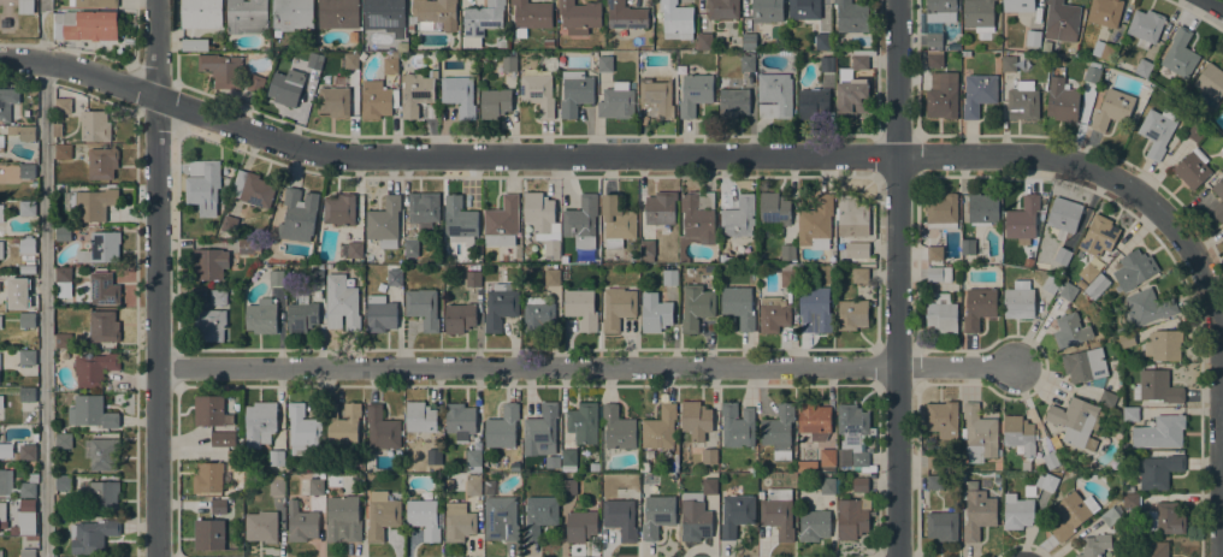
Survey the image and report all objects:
building: (6, 0)
building: (93, 2)
road: (1216, 4)
building: (1018, 6)
building: (721, 8)
building: (803, 8)
building: (766, 11)
building: (937, 12)
building: (1104, 12)
building: (201, 13)
building: (291, 13)
building: (338, 13)
building: (433, 13)
building: (977, 14)
building: (246, 16)
building: (384, 16)
building: (531, 16)
building: (626, 16)
building: (851, 16)
building: (579, 17)
building: (675, 19)
building: (1062, 20)
building: (480, 22)
building: (84, 25)
building: (1145, 26)
building: (1032, 38)
building: (934, 40)
building: (704, 41)
building: (748, 41)
building: (821, 41)
building: (195, 45)
building: (1104, 51)
building: (965, 53)
building: (1177, 57)
building: (314, 60)
building: (350, 60)
building: (933, 60)
building: (746, 63)
building: (509, 64)
building: (604, 64)
building: (826, 64)
building: (1008, 64)
building: (390, 65)
building: (1142, 67)
building: (221, 70)
building: (1091, 73)
building: (394, 79)
building: (254, 83)
building: (1210, 84)
building: (285, 87)
building: (852, 87)
building: (415, 93)
building: (537, 93)
building: (574, 93)
building: (695, 93)
building: (977, 93)
building: (459, 95)
building: (774, 95)
building: (941, 95)
building: (655, 97)
building: (377, 100)
building: (1095, 100)
building: (335, 101)
building: (1022, 101)
building: (1062, 101)
building: (7, 102)
building: (616, 102)
building: (733, 102)
building: (811, 102)
building: (494, 103)
building: (63, 106)
building: (1222, 108)
building: (1111, 109)
building: (94, 126)
building: (57, 129)
building: (23, 131)
building: (1157, 131)
building: (1195, 132)
building: (1, 143)
building: (61, 152)
road: (439, 159)
building: (101, 162)
building: (1192, 168)
building: (26, 171)
building: (205, 189)
building: (253, 189)
building: (1219, 195)
building: (95, 203)
building: (26, 208)
building: (423, 208)
building: (660, 208)
building: (774, 208)
building: (983, 208)
building: (339, 209)
building: (941, 211)
building: (1, 213)
building: (297, 215)
building: (738, 217)
building: (852, 217)
building: (1063, 217)
building: (459, 218)
building: (581, 220)
building: (696, 220)
building: (1022, 220)
building: (384, 221)
building: (542, 221)
building: (616, 221)
building: (502, 223)
building: (816, 223)
building: (229, 224)
building: (64, 232)
building: (1098, 236)
building: (14, 241)
building: (26, 244)
building: (968, 245)
road: (1184, 245)
building: (246, 247)
building: (649, 247)
building: (101, 248)
building: (410, 248)
building: (0, 249)
building: (355, 249)
building: (734, 249)
building: (787, 251)
building: (859, 251)
building: (934, 253)
building: (1062, 255)
building: (209, 262)
building: (1027, 262)
building: (26, 268)
building: (1134, 269)
building: (1088, 272)
building: (938, 273)
building: (63, 274)
building: (859, 274)
building: (394, 275)
building: (787, 275)
building: (277, 277)
building: (315, 277)
building: (551, 277)
building: (669, 277)
road: (155, 278)
building: (473, 278)
road: (897, 278)
building: (26, 283)
building: (1051, 284)
building: (1081, 284)
building: (1097, 285)
building: (102, 288)
building: (1068, 291)
building: (221, 296)
building: (1018, 300)
building: (26, 303)
building: (341, 303)
building: (696, 306)
building: (738, 306)
building: (500, 307)
building: (618, 307)
building: (816, 307)
building: (979, 307)
building: (1147, 307)
building: (421, 308)
building: (580, 308)
road: (46, 309)
building: (655, 313)
building: (379, 314)
building: (538, 314)
building: (773, 314)
building: (852, 314)
building: (943, 314)
building: (301, 315)
building: (261, 316)
building: (459, 316)
building: (26, 320)
building: (0, 324)
building: (209, 325)
building: (104, 326)
building: (1068, 330)
building: (1119, 330)
building: (61, 339)
building: (1125, 340)
building: (1163, 345)
building: (26, 357)
building: (1083, 365)
road: (587, 367)
building: (94, 368)
building: (1158, 386)
building: (26, 395)
building: (1106, 398)
building: (1, 402)
building: (91, 411)
building: (209, 411)
building: (1129, 414)
building: (941, 419)
building: (419, 420)
building: (695, 420)
building: (814, 420)
building: (1076, 420)
building: (459, 421)
building: (583, 422)
building: (852, 422)
building: (259, 423)
building: (343, 425)
building: (737, 425)
building: (502, 427)
building: (618, 427)
building: (380, 428)
building: (658, 428)
building: (303, 431)
building: (540, 431)
building: (778, 431)
building: (1159, 432)
building: (1020, 433)
building: (979, 434)
building: (223, 439)
building: (63, 440)
building: (1056, 440)
building: (5, 450)
building: (24, 452)
building: (104, 454)
building: (433, 456)
building: (708, 456)
building: (277, 457)
building: (859, 458)
building: (568, 460)
building: (827, 460)
building: (1050, 460)
building: (473, 461)
building: (933, 461)
building: (553, 462)
building: (1024, 466)
building: (593, 467)
building: (288, 468)
building: (1158, 472)
building: (218, 473)
building: (336, 480)
building: (457, 481)
building: (934, 481)
building: (1046, 481)
building: (28, 482)
building: (63, 482)
building: (859, 484)
building: (473, 485)
building: (276, 486)
building: (315, 486)
building: (568, 486)
building: (827, 486)
building: (760, 494)
building: (102, 496)
building: (1130, 500)
building: (218, 505)
building: (2, 511)
building: (1017, 511)
building: (697, 512)
building: (778, 512)
building: (25, 514)
building: (735, 514)
building: (977, 514)
building: (1071, 514)
building: (344, 515)
building: (380, 515)
building: (539, 515)
building: (656, 516)
building: (1110, 516)
building: (425, 517)
building: (620, 517)
building: (852, 517)
building: (500, 519)
building: (1164, 519)
building: (457, 522)
building: (301, 523)
building: (814, 525)
building: (580, 526)
building: (941, 526)
building: (261, 527)
building: (208, 534)
building: (91, 535)
building: (1094, 545)
building: (1153, 549)
building: (26, 552)
building: (1, 553)

